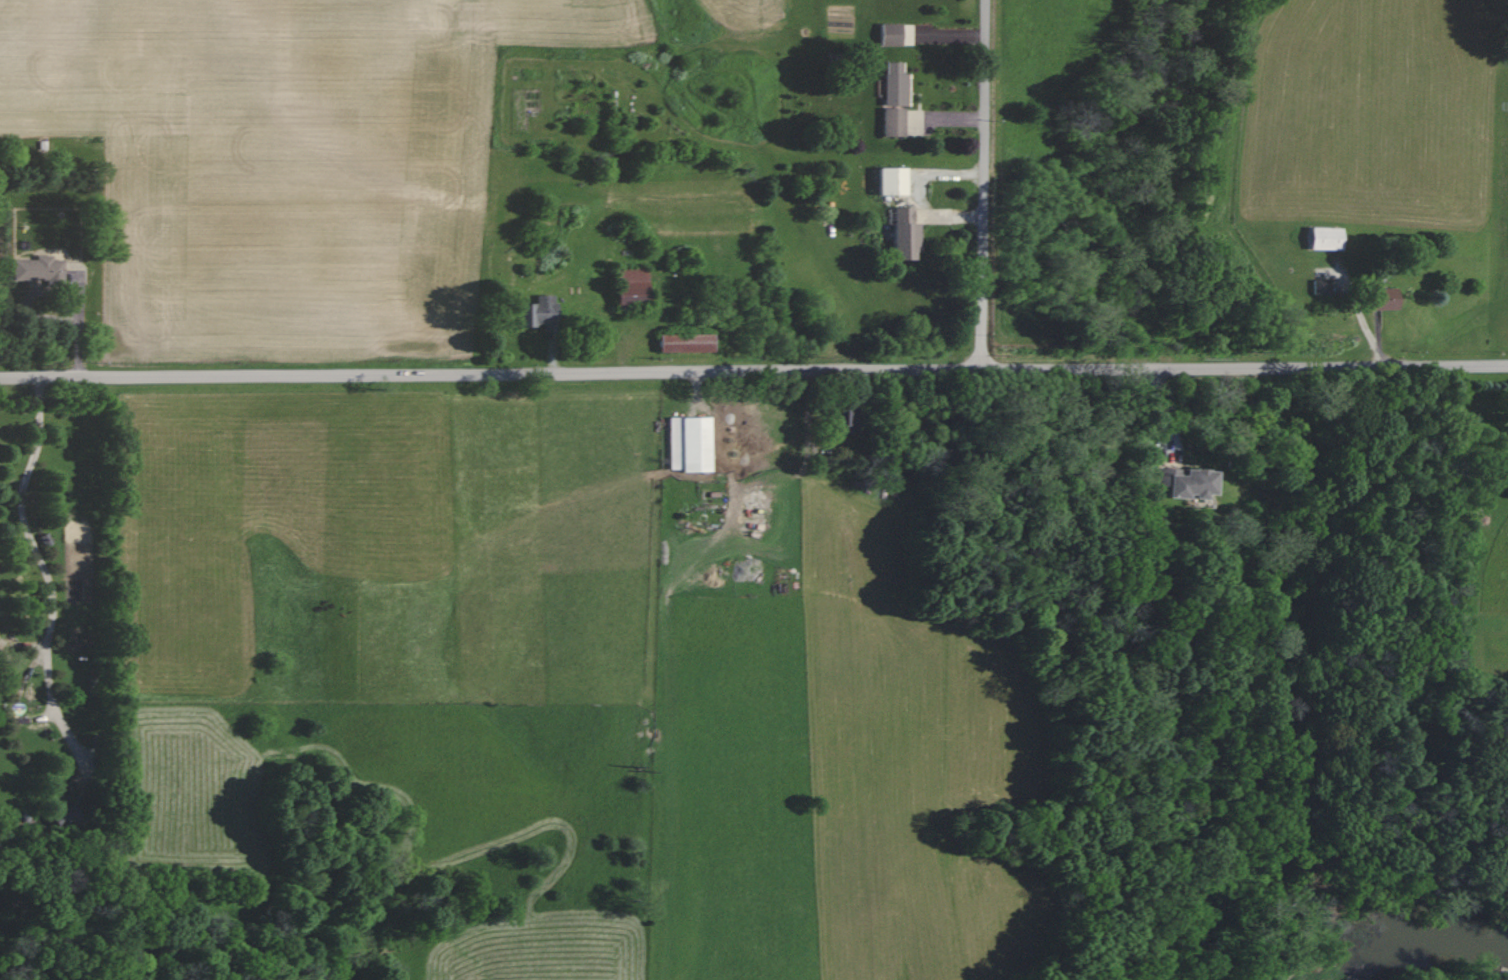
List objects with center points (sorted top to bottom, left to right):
building: (886, 34)
building: (891, 100)
building: (888, 180)
road: (983, 184)
building: (901, 235)
building: (1322, 238)
building: (36, 269)
building: (627, 286)
building: (1319, 286)
building: (1378, 297)
building: (533, 312)
building: (681, 343)
road: (753, 370)
building: (686, 444)
building: (1182, 482)
road: (52, 595)
building: (61, 815)
river: (1453, 948)

